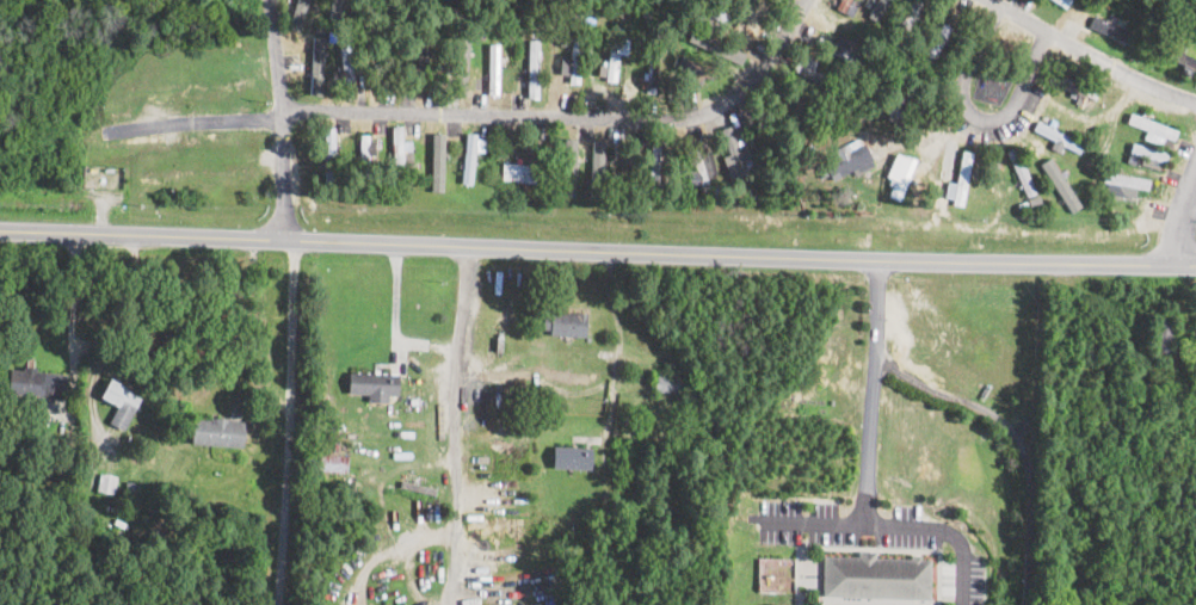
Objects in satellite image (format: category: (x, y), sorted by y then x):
building: (847, 5)
building: (874, 6)
building: (338, 12)
building: (298, 14)
building: (1109, 27)
building: (716, 45)
road: (1089, 51)
building: (615, 56)
building: (573, 57)
building: (1183, 58)
building: (387, 61)
building: (318, 64)
building: (425, 64)
building: (349, 66)
building: (460, 67)
building: (493, 67)
building: (470, 68)
building: (532, 68)
building: (690, 68)
road: (569, 116)
road: (975, 116)
road: (283, 118)
road: (198, 121)
building: (1058, 136)
building: (397, 147)
building: (735, 152)
building: (331, 153)
building: (426, 155)
building: (850, 155)
building: (364, 156)
building: (597, 159)
building: (437, 161)
building: (469, 165)
building: (569, 166)
building: (701, 168)
building: (518, 171)
building: (899, 173)
building: (958, 178)
building: (1122, 183)
building: (1060, 184)
road: (1188, 223)
road: (597, 252)
road: (72, 302)
building: (569, 323)
building: (668, 379)
building: (37, 383)
building: (374, 385)
road: (592, 387)
road: (1000, 400)
building: (121, 402)
building: (414, 402)
road: (288, 422)
road: (452, 425)
building: (217, 432)
building: (575, 456)
building: (334, 463)
building: (106, 483)
building: (130, 487)
building: (418, 489)
road: (865, 501)
building: (129, 512)
road: (815, 516)
building: (871, 578)

